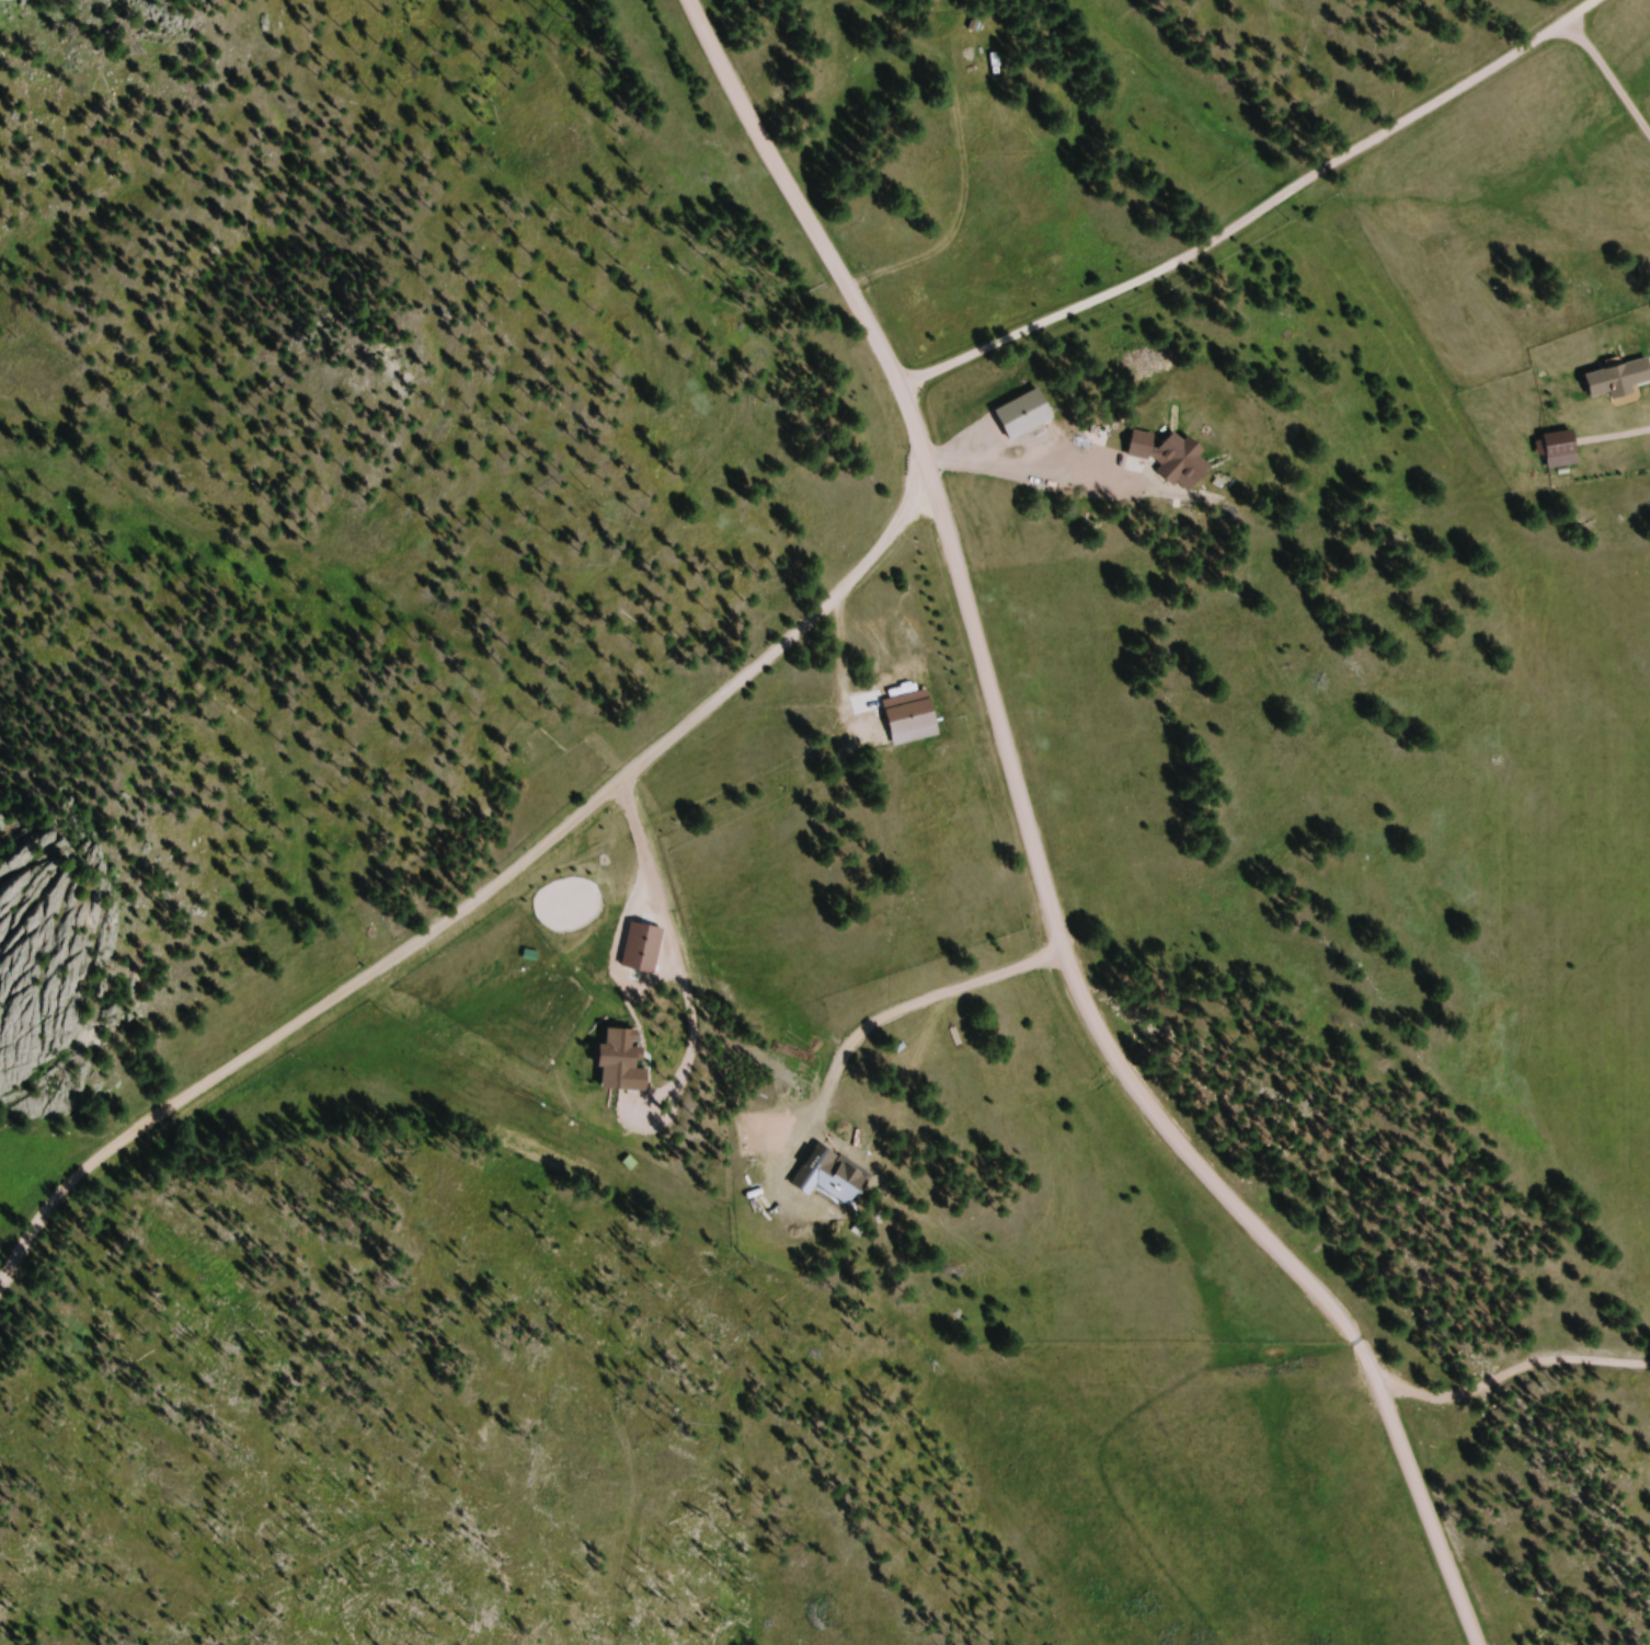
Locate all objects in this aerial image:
road: (1254, 216)
building: (1622, 383)
building: (1031, 417)
building: (1566, 452)
building: (1177, 461)
building: (917, 715)
road: (1029, 848)
road: (488, 891)

